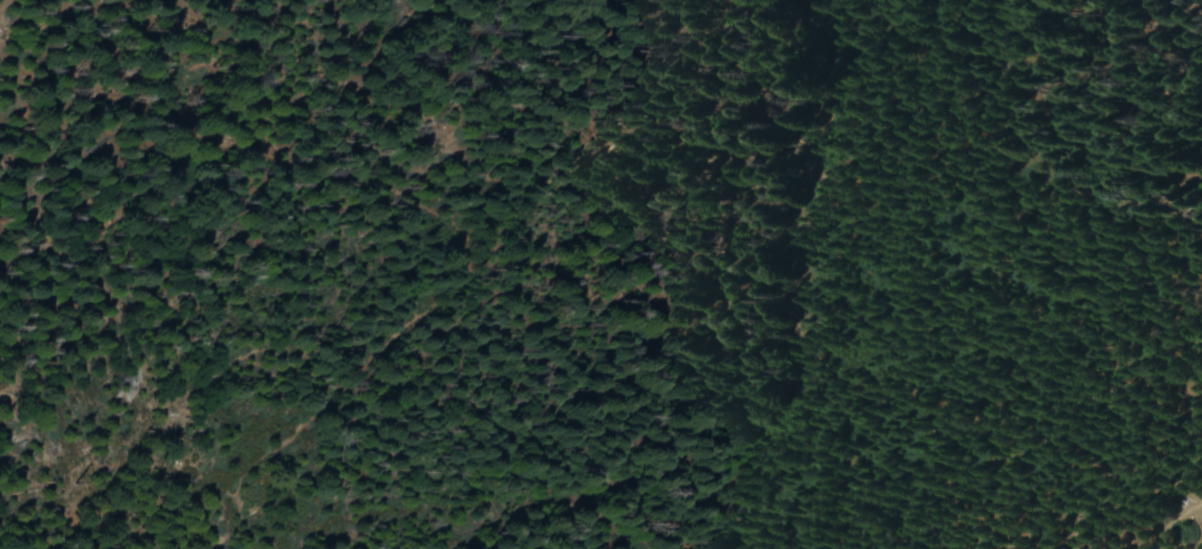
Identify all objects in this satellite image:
road: (436, 214)
road: (1173, 523)

